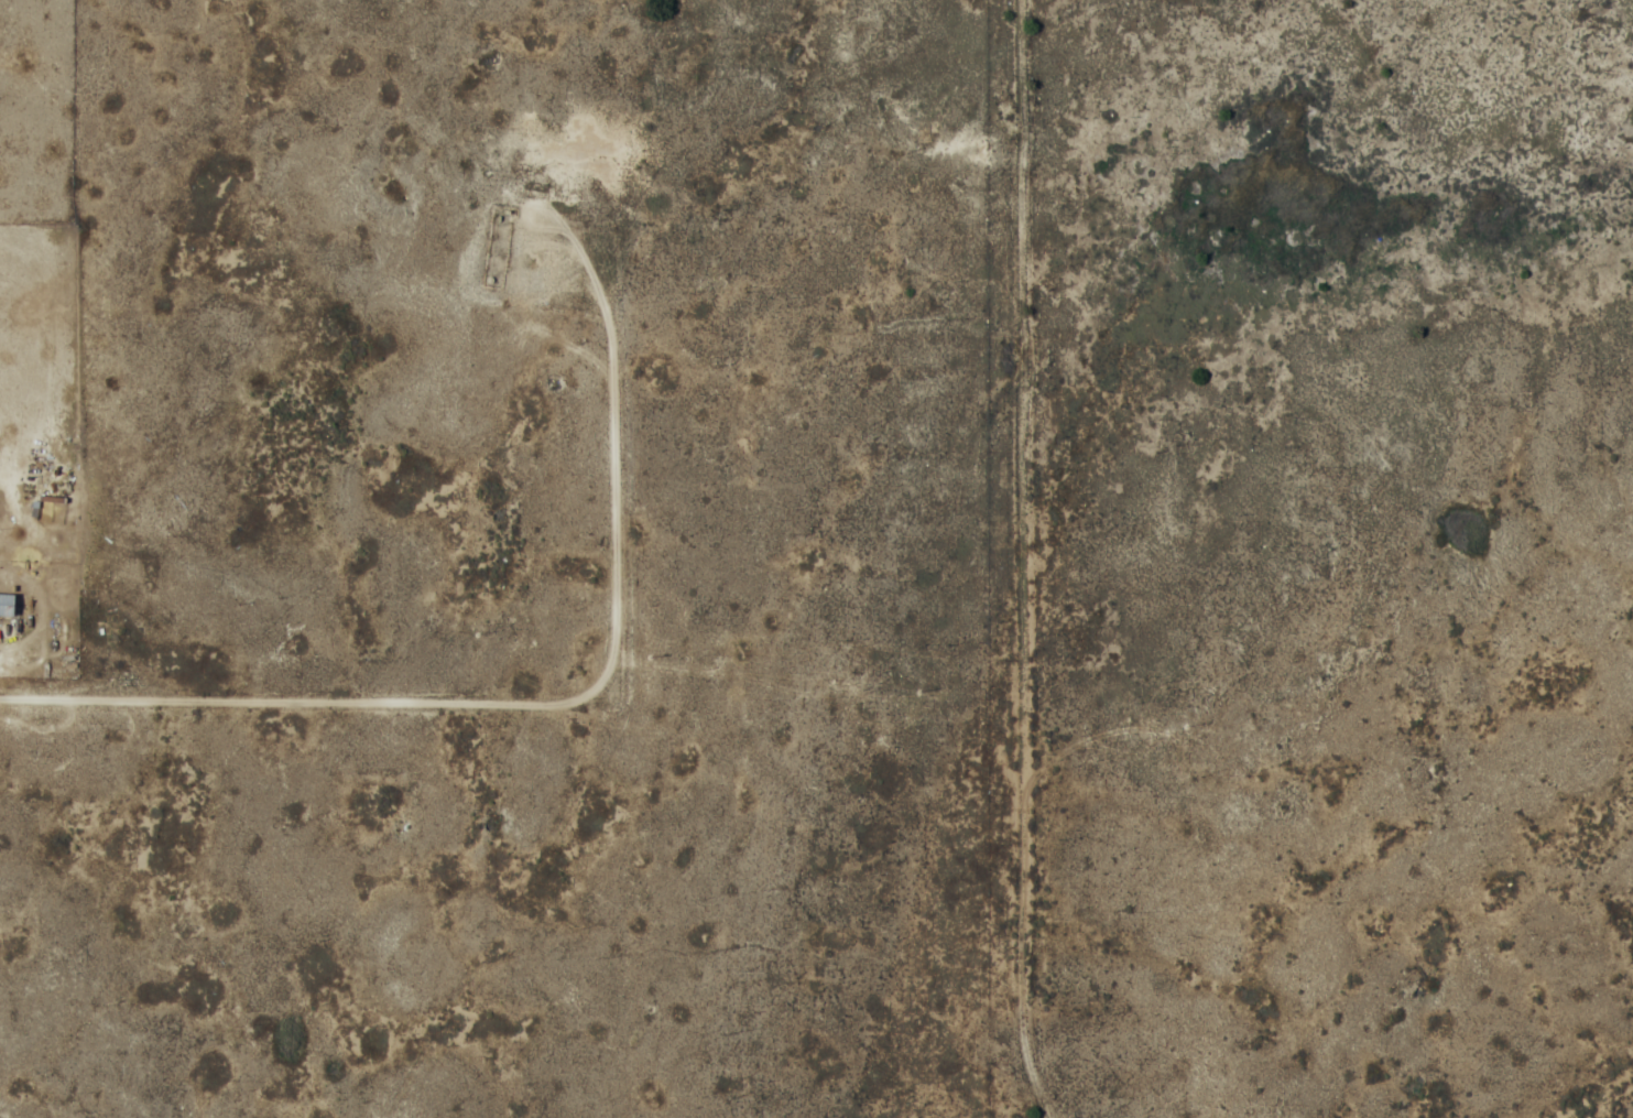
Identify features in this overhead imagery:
building: (51, 499)
building: (7, 604)

